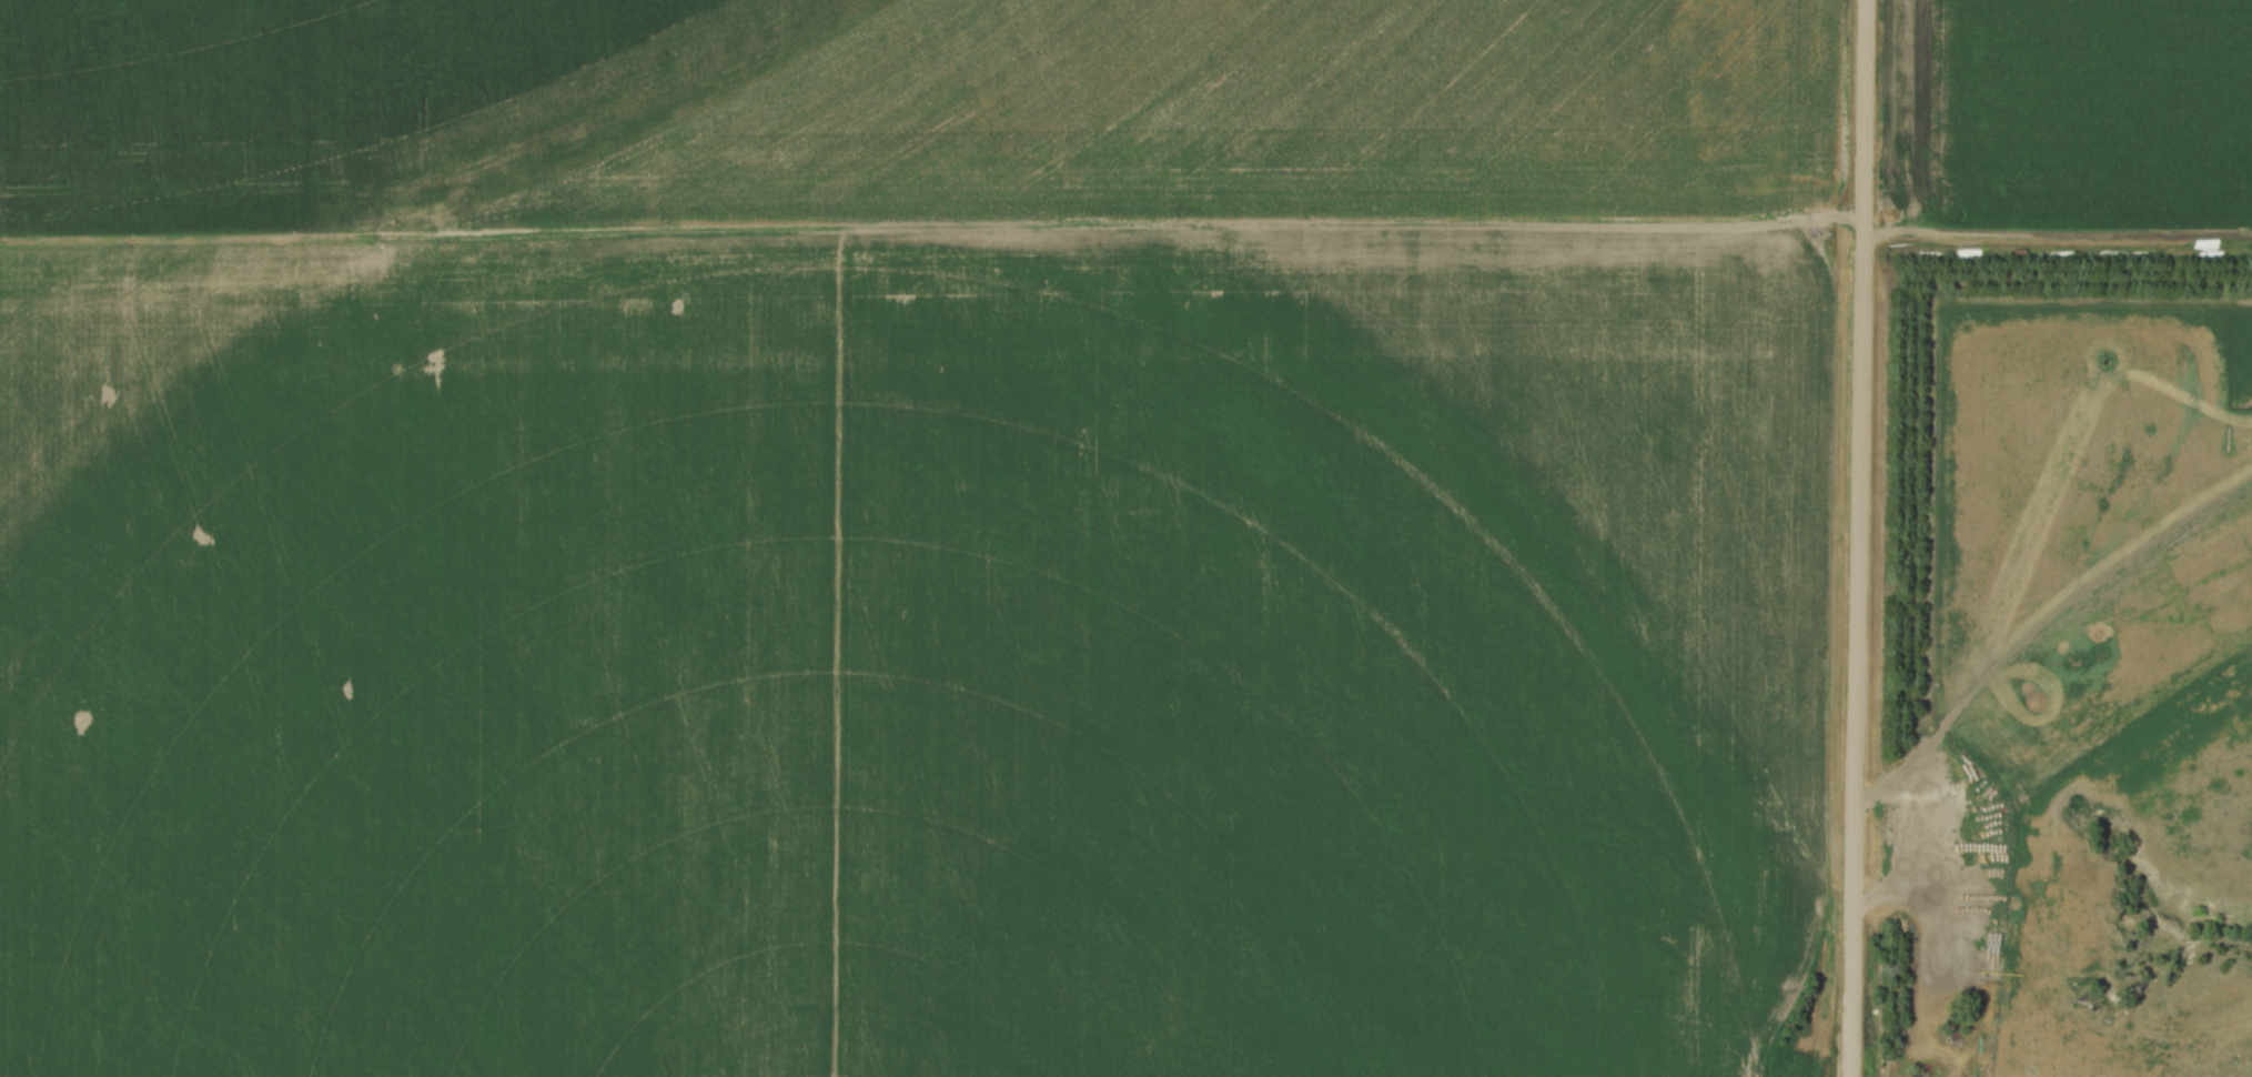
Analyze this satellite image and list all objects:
road: (2057, 234)
road: (1858, 538)

